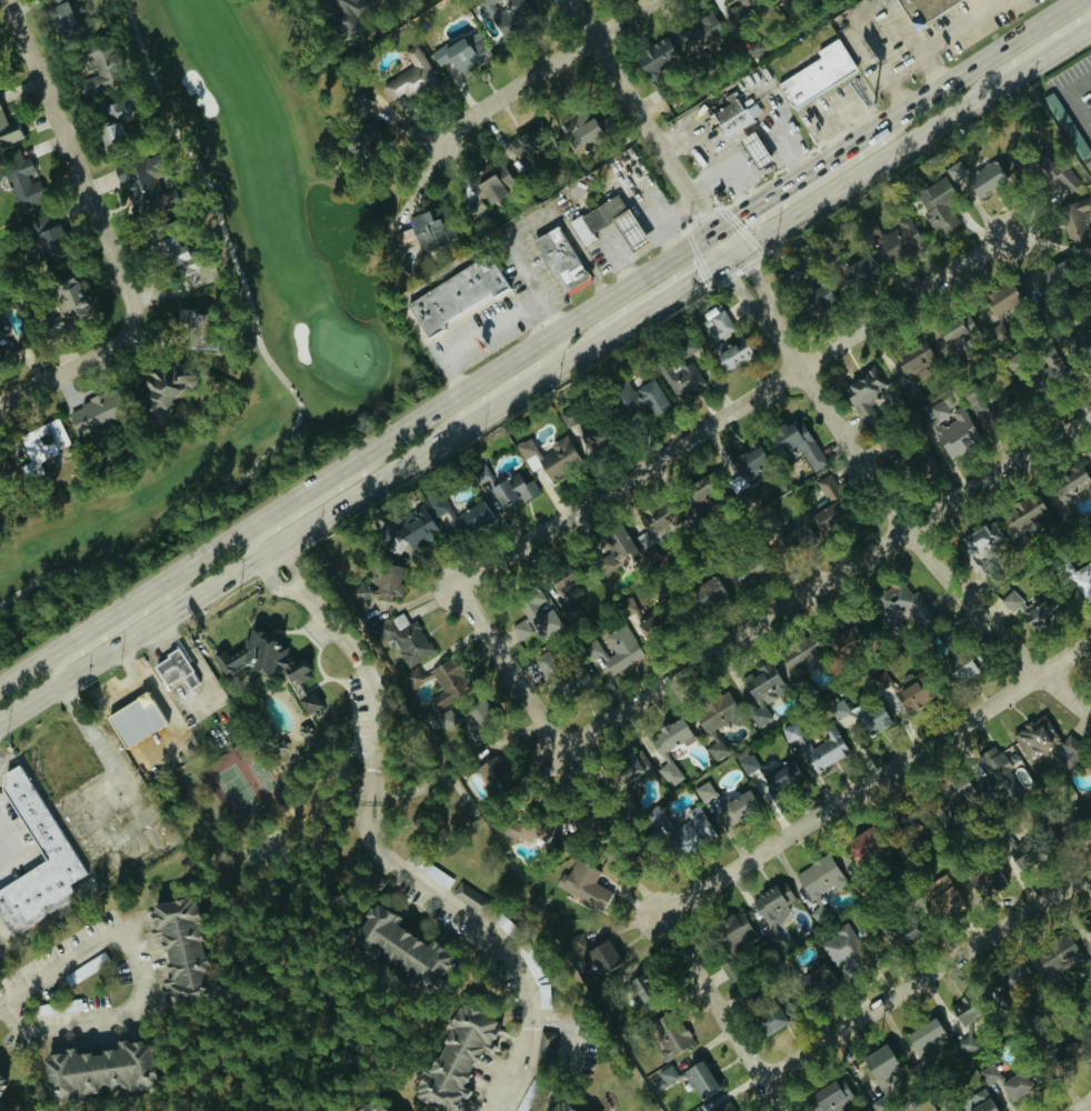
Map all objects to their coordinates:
building: (487, 4)
building: (741, 11)
building: (923, 11)
building: (342, 12)
building: (58, 18)
building: (510, 18)
road: (903, 29)
building: (701, 33)
road: (950, 36)
road: (1030, 49)
road: (870, 51)
building: (452, 57)
building: (654, 58)
road: (975, 64)
road: (543, 69)
building: (99, 71)
building: (818, 73)
building: (409, 78)
road: (1071, 101)
road: (639, 107)
building: (733, 116)
building: (112, 121)
road: (844, 122)
building: (361, 129)
building: (585, 131)
building: (9, 133)
road: (740, 136)
road: (914, 139)
building: (526, 144)
building: (757, 151)
gas station: (757, 151)
building: (1089, 171)
building: (953, 172)
road: (799, 177)
road: (732, 179)
road: (709, 181)
building: (1061, 183)
building: (21, 184)
building: (980, 184)
building: (139, 186)
building: (486, 189)
building: (935, 206)
traffic signals: (702, 207)
road: (565, 210)
building: (599, 214)
traffic signals: (737, 216)
road: (648, 220)
road: (715, 220)
building: (1075, 222)
road: (708, 224)
building: (632, 227)
road: (633, 229)
building: (424, 231)
road: (104, 233)
building: (46, 239)
building: (898, 240)
building: (170, 254)
road: (612, 254)
building: (564, 257)
road: (749, 266)
traffic signals: (749, 266)
building: (857, 272)
traffic signals: (702, 273)
road: (733, 274)
road: (670, 292)
building: (459, 294)
building: (999, 300)
building: (815, 301)
building: (64, 304)
road: (504, 321)
building: (186, 326)
building: (717, 327)
building: (954, 330)
building: (1, 337)
park: (332, 342)
building: (1075, 344)
building: (730, 356)
building: (910, 360)
road: (447, 362)
building: (1045, 373)
building: (680, 380)
road: (497, 387)
building: (157, 392)
building: (862, 396)
building: (639, 400)
road: (733, 409)
building: (997, 410)
building: (93, 413)
road: (457, 429)
building: (951, 432)
building: (40, 443)
building: (793, 444)
road: (361, 453)
building: (549, 457)
building: (745, 461)
building: (2, 464)
building: (919, 466)
building: (510, 490)
building: (1065, 490)
road: (318, 499)
building: (827, 504)
building: (1023, 513)
building: (452, 514)
building: (657, 520)
road: (905, 529)
building: (407, 530)
building: (797, 536)
building: (978, 538)
building: (617, 543)
road: (298, 564)
building: (604, 564)
building: (745, 574)
building: (1081, 578)
road: (824, 581)
road: (274, 587)
building: (378, 589)
building: (703, 591)
building: (900, 608)
building: (1029, 610)
building: (536, 612)
building: (647, 621)
road: (154, 622)
road: (121, 624)
building: (849, 628)
building: (519, 629)
building: (408, 641)
building: (794, 655)
building: (260, 658)
building: (953, 667)
road: (508, 668)
building: (171, 669)
building: (570, 683)
road: (368, 688)
building: (758, 690)
building: (910, 695)
building: (307, 702)
building: (474, 713)
building: (132, 720)
building: (870, 721)
building: (710, 722)
building: (787, 732)
building: (1045, 743)
building: (664, 748)
building: (822, 749)
building: (745, 764)
building: (627, 767)
building: (1088, 767)
building: (491, 775)
building: (994, 775)
building: (780, 778)
road: (874, 778)
building: (957, 792)
building: (725, 803)
building: (1089, 810)
building: (1067, 822)
building: (37, 825)
building: (526, 828)
building: (688, 831)
road: (156, 839)
building: (860, 843)
road: (18, 847)
building: (1017, 854)
building: (983, 881)
building: (817, 884)
building: (581, 885)
building: (940, 898)
building: (464, 904)
building: (771, 908)
building: (1087, 929)
building: (733, 930)
building: (900, 933)
road: (497, 937)
building: (174, 948)
building: (402, 948)
building: (841, 949)
building: (1052, 957)
building: (598, 958)
building: (527, 961)
road: (151, 967)
road: (928, 974)
building: (1008, 978)
building: (813, 983)
road: (722, 1012)
building: (767, 1019)
building: (921, 1038)
building: (670, 1040)
building: (453, 1059)
building: (878, 1067)
building: (92, 1071)
building: (987, 1074)
building: (665, 1075)
building: (698, 1080)
building: (0, 1082)
building: (1013, 1085)
building: (829, 1097)
building: (974, 1102)
building: (371, 1105)
building: (553, 1107)
road: (1084, 1107)

